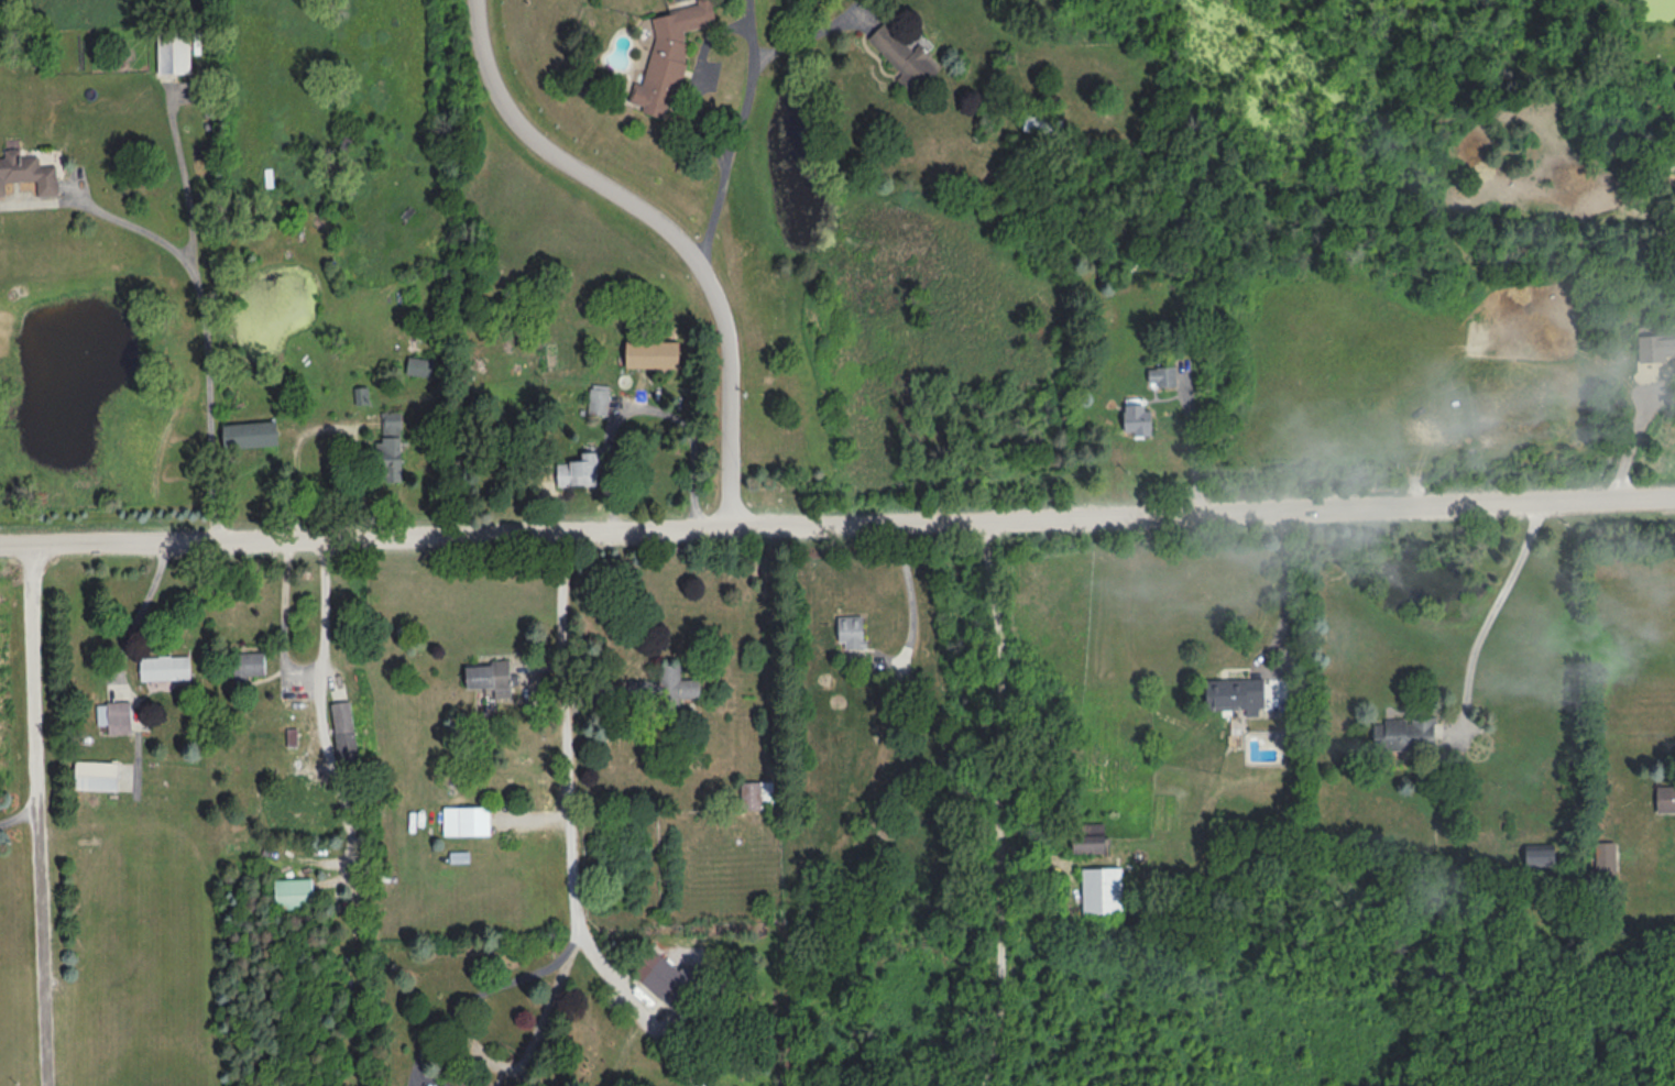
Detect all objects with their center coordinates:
road: (753, 29)
road: (814, 33)
building: (175, 50)
building: (672, 53)
building: (907, 57)
road: (694, 81)
building: (1044, 125)
road: (730, 154)
building: (29, 175)
road: (101, 212)
road: (679, 227)
road: (202, 331)
building: (1657, 350)
building: (655, 354)
building: (1163, 376)
building: (600, 401)
road: (644, 407)
building: (1138, 418)
road: (327, 426)
building: (252, 435)
building: (393, 447)
building: (580, 470)
road: (837, 523)
road: (1284, 592)
road: (908, 597)
road: (151, 605)
road: (1493, 612)
building: (853, 632)
road: (285, 663)
building: (250, 666)
building: (166, 668)
building: (492, 679)
building: (666, 688)
building: (901, 691)
building: (1238, 695)
building: (116, 717)
building: (346, 733)
building: (1408, 734)
building: (98, 776)
building: (758, 797)
building: (1667, 799)
road: (999, 801)
road: (36, 815)
road: (18, 818)
building: (468, 822)
road: (574, 832)
building: (1092, 844)
building: (1608, 859)
building: (1104, 891)
building: (295, 893)
building: (675, 984)
road: (483, 990)
road: (526, 1055)
building: (446, 1085)

